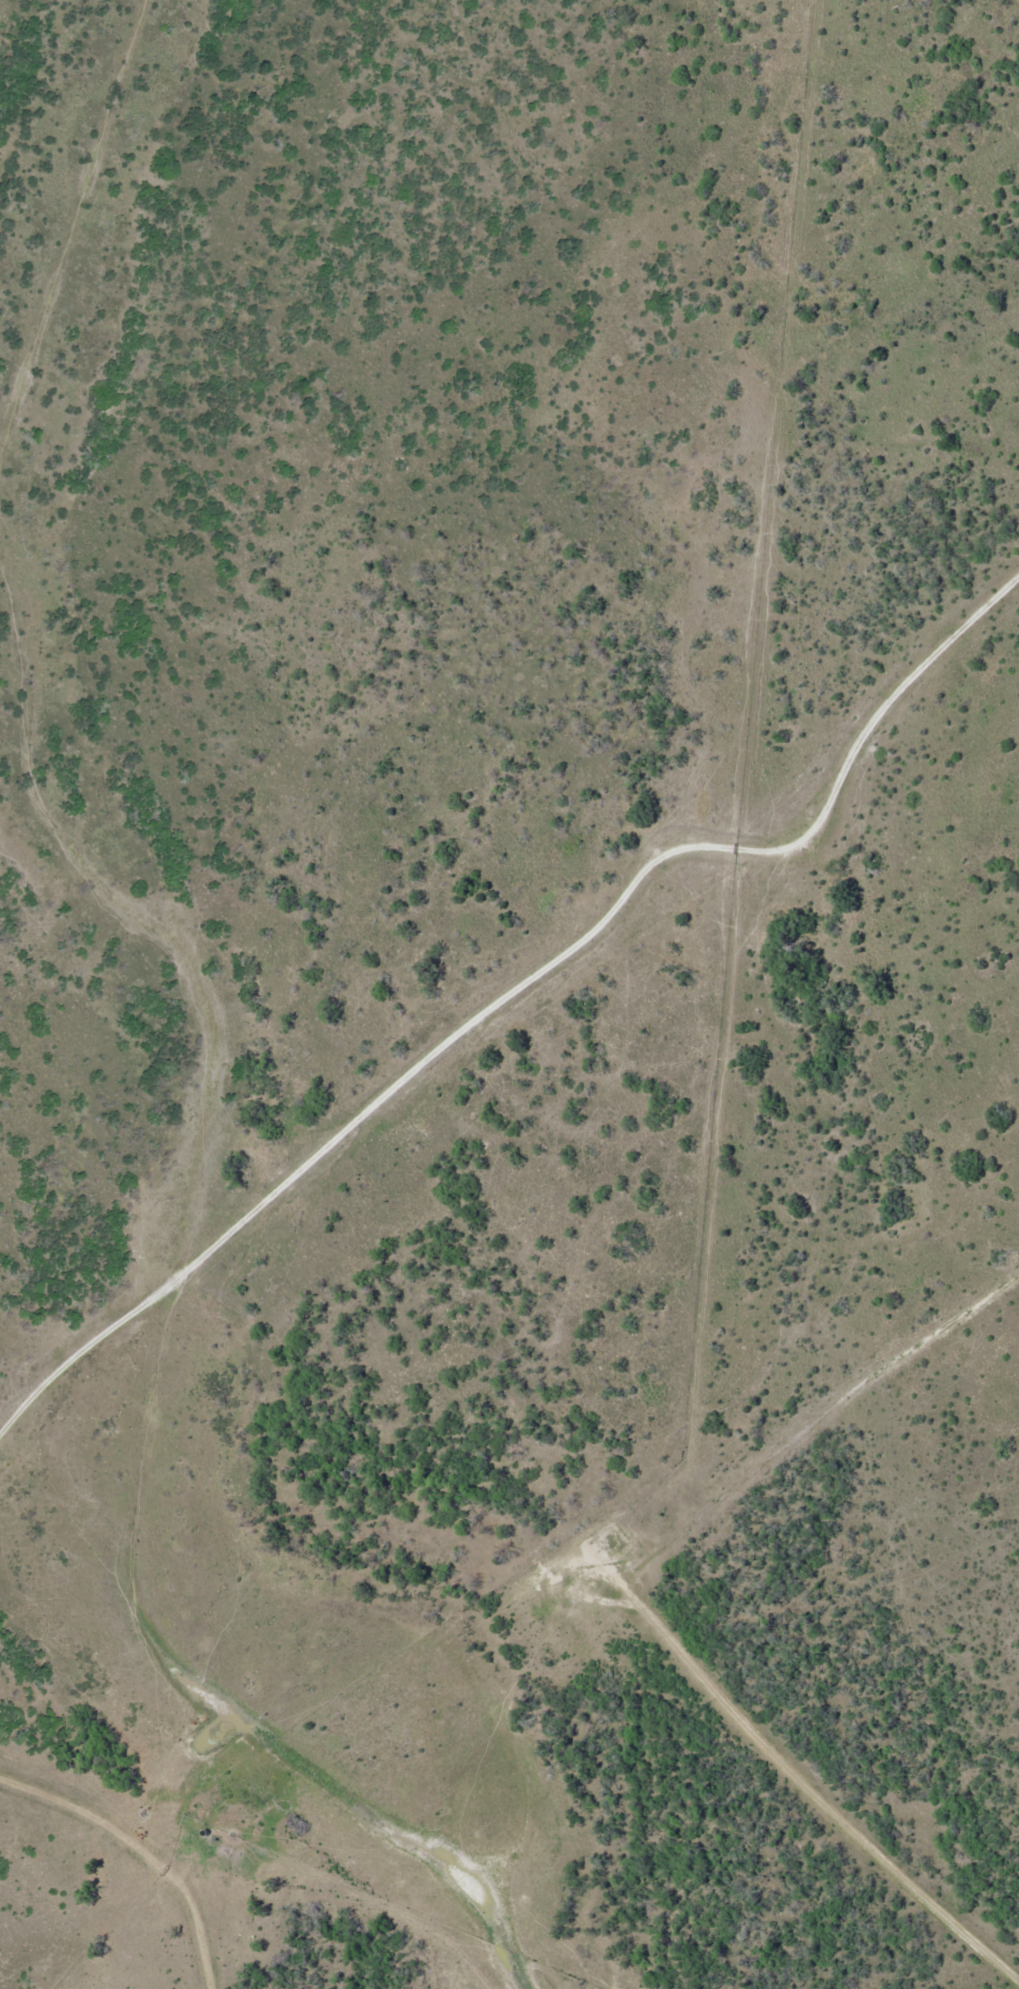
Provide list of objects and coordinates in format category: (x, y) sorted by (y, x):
building: (611, 1545)
storage tank: (611, 1545)
road: (148, 1843)

